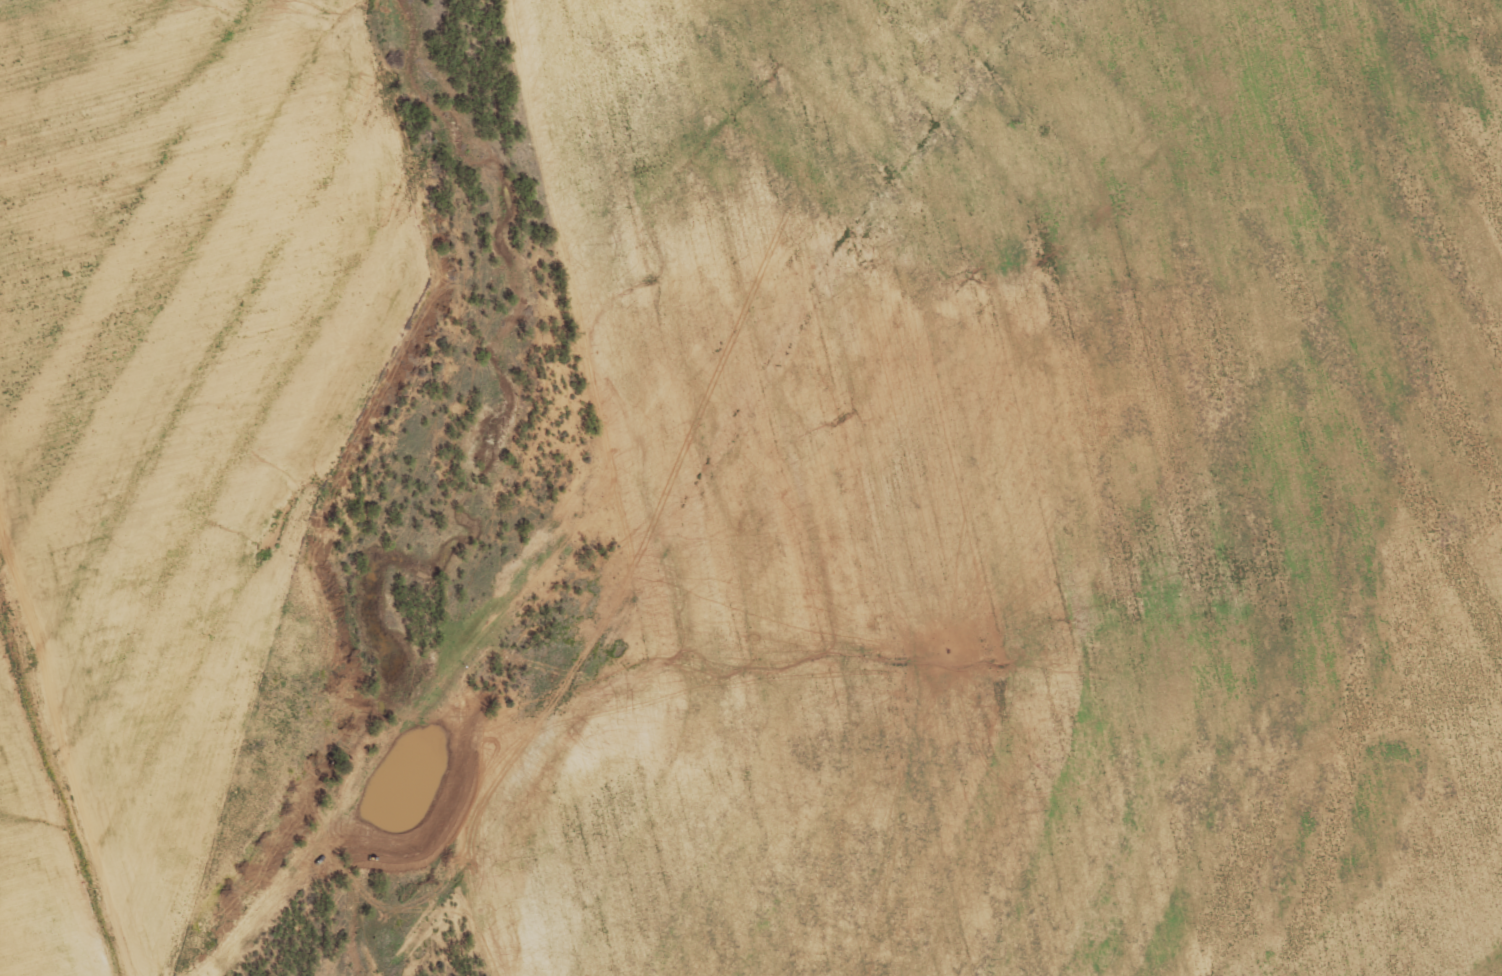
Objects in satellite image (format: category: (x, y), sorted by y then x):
road: (48, 844)

